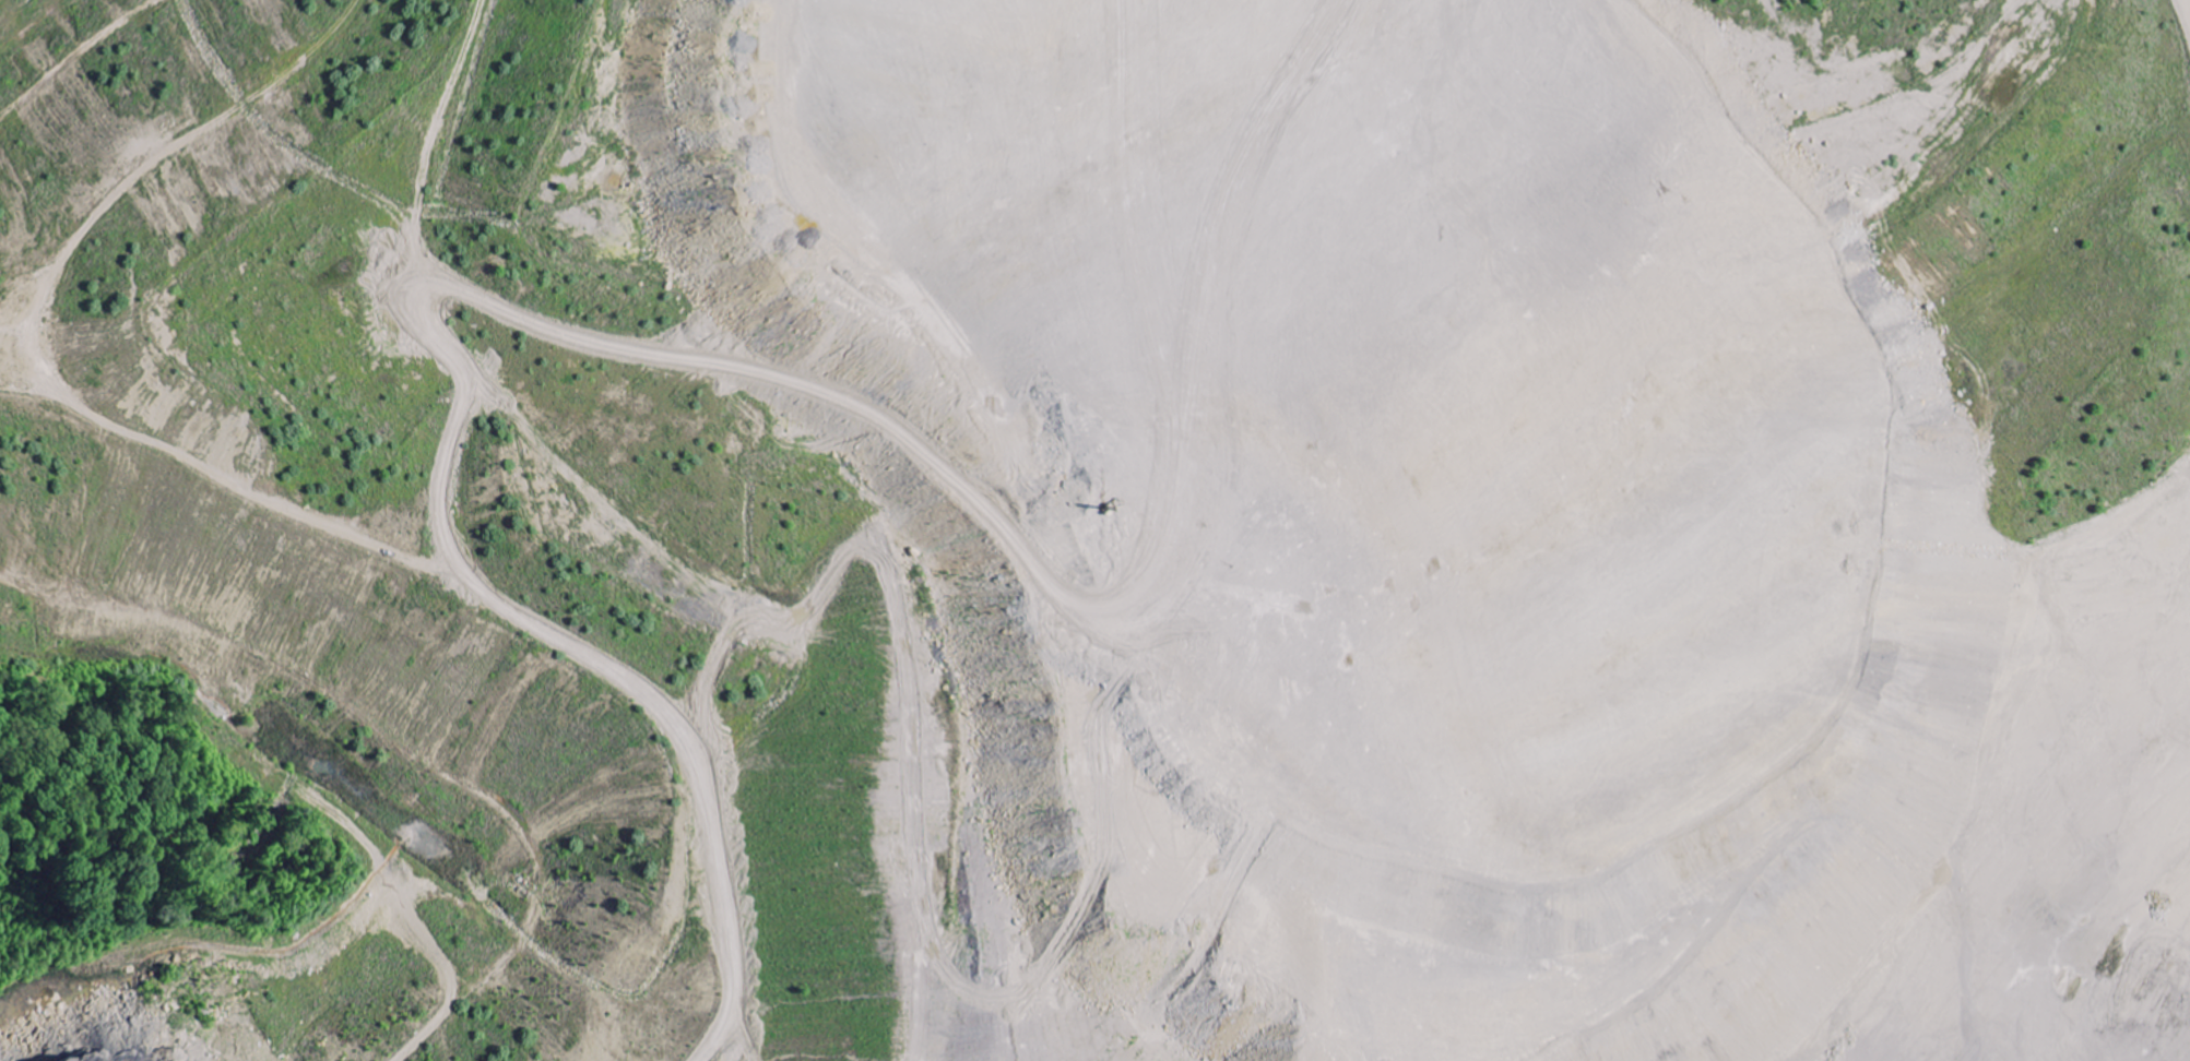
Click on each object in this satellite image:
quarry: (1094, 530)

